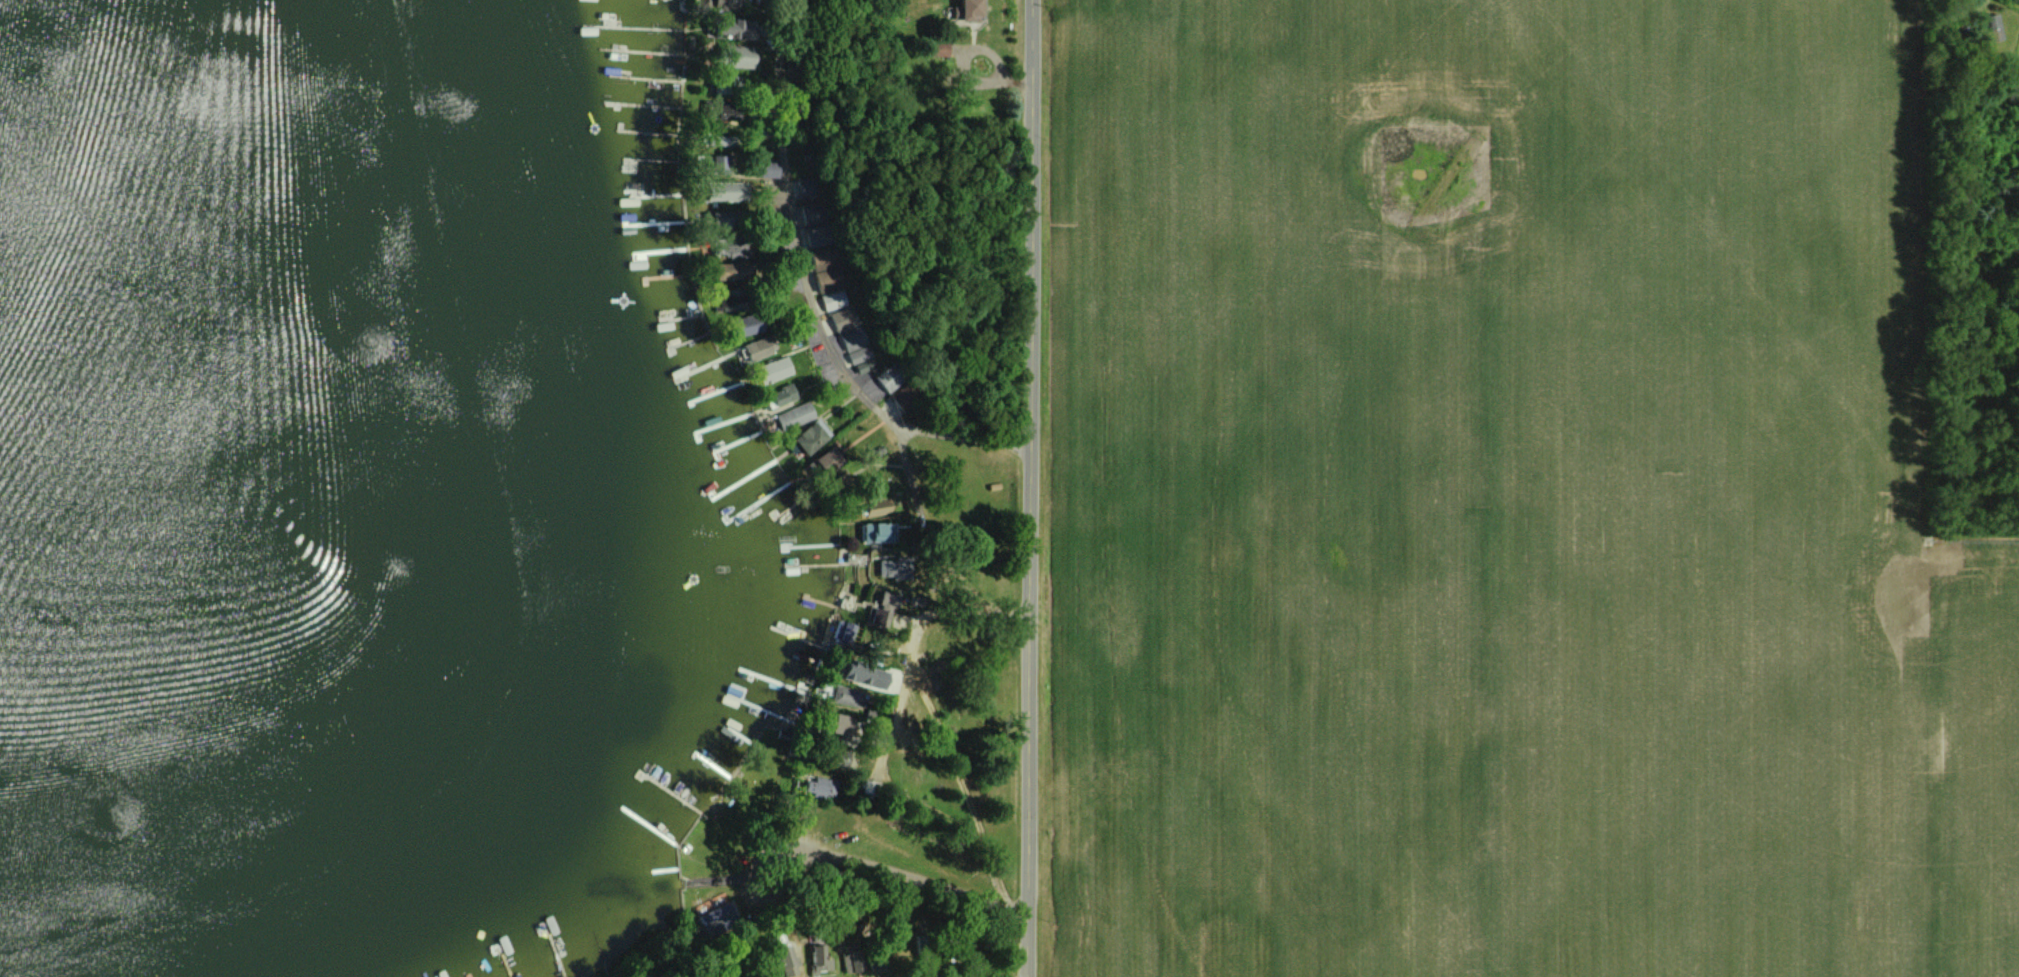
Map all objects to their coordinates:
building: (723, 4)
building: (969, 10)
building: (1989, 26)
building: (734, 28)
building: (742, 57)
building: (721, 165)
building: (770, 170)
building: (726, 191)
building: (734, 260)
building: (828, 280)
building: (749, 324)
building: (851, 334)
building: (757, 348)
road: (832, 349)
building: (773, 369)
building: (891, 375)
building: (781, 395)
building: (794, 415)
building: (812, 436)
road: (962, 438)
road: (1029, 488)
building: (878, 506)
building: (879, 531)
building: (894, 567)
building: (884, 609)
road: (951, 610)
road: (910, 661)
building: (864, 675)
building: (847, 697)
building: (842, 727)
building: (844, 758)
building: (821, 787)
road: (920, 807)
road: (975, 820)
building: (716, 919)
building: (818, 959)
building: (787, 961)
building: (857, 963)

